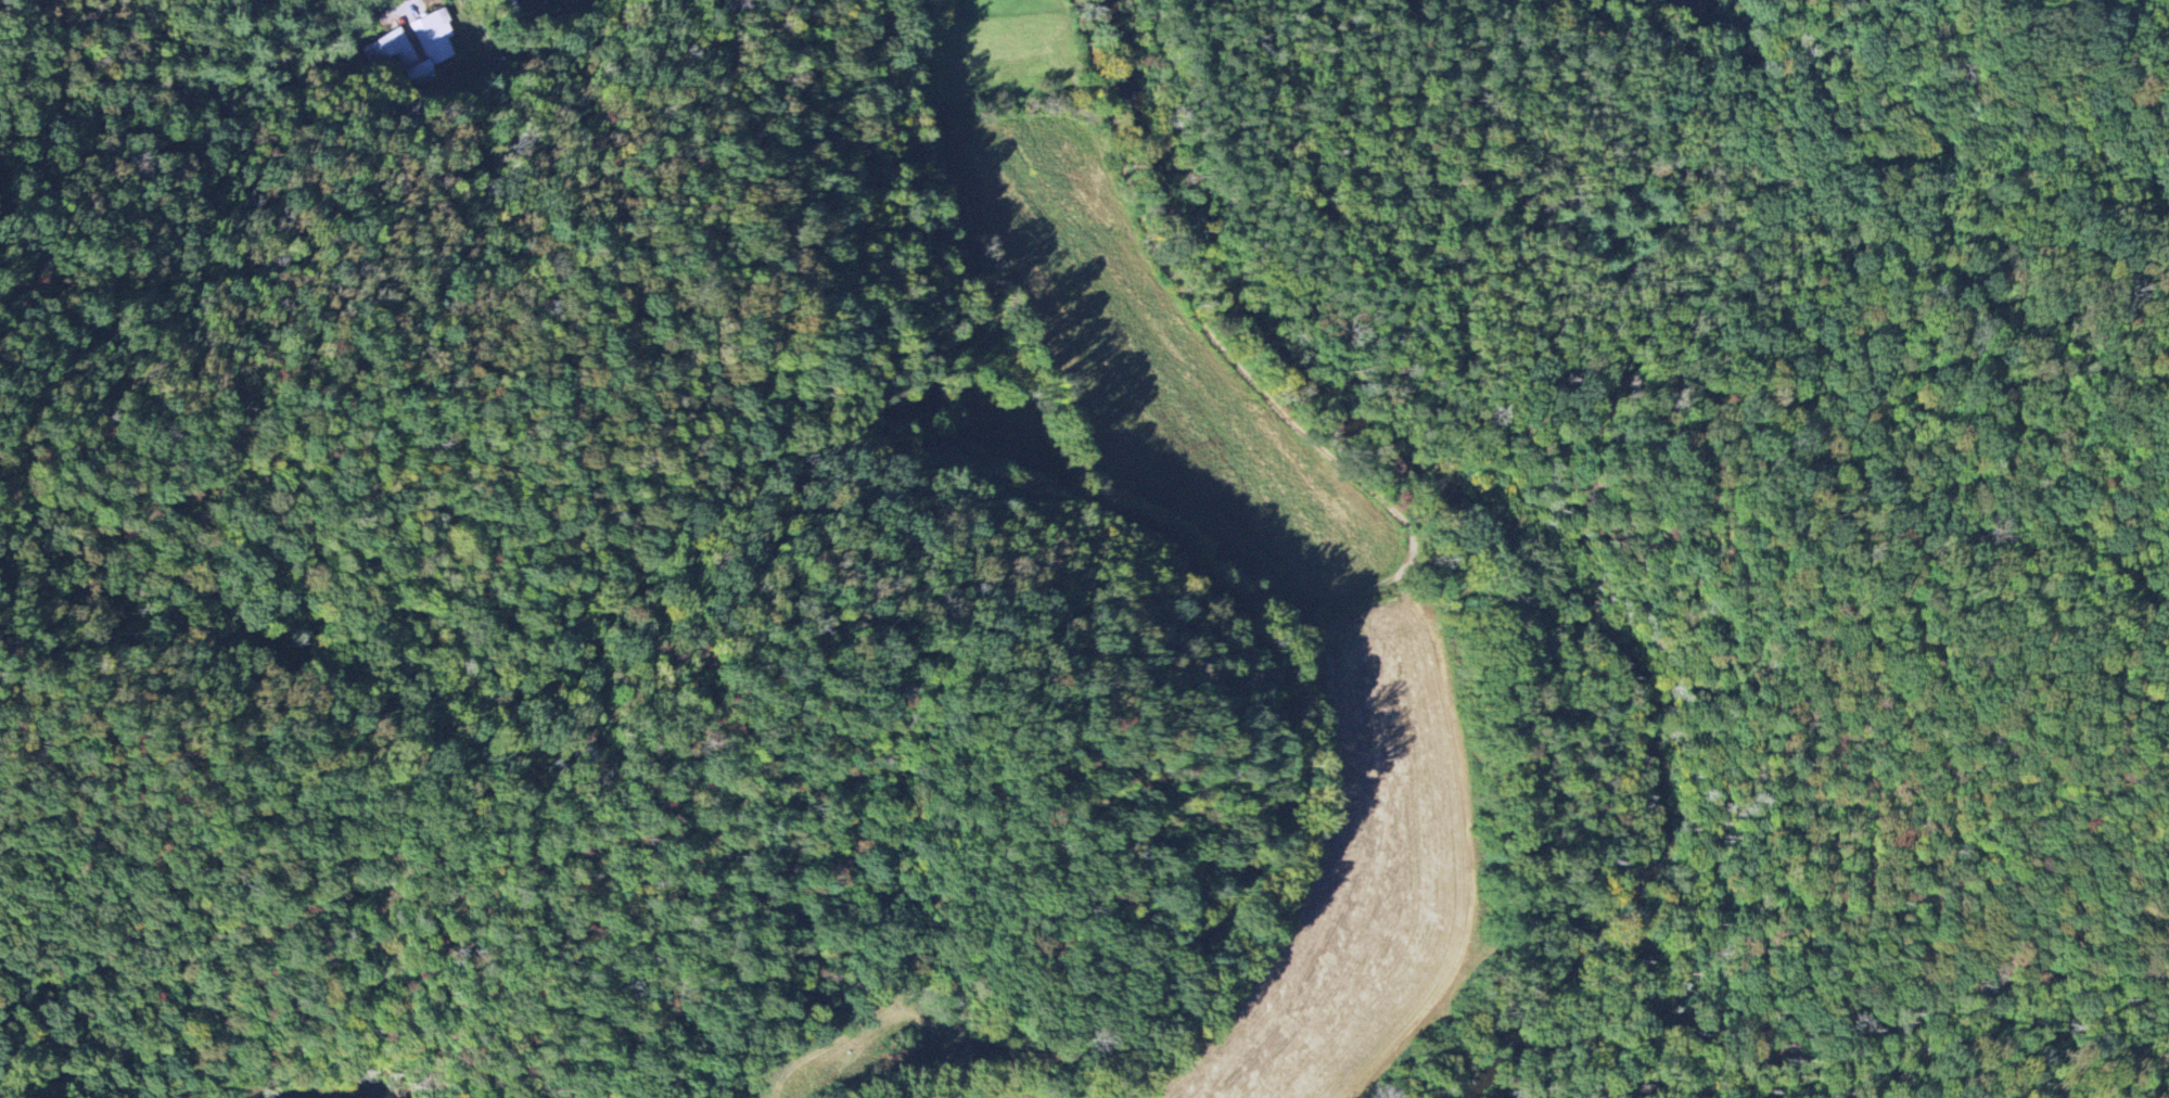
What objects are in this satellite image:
road: (391, 15)
building: (420, 43)
river: (1445, 513)
river: (1477, 1058)
river: (337, 1086)

